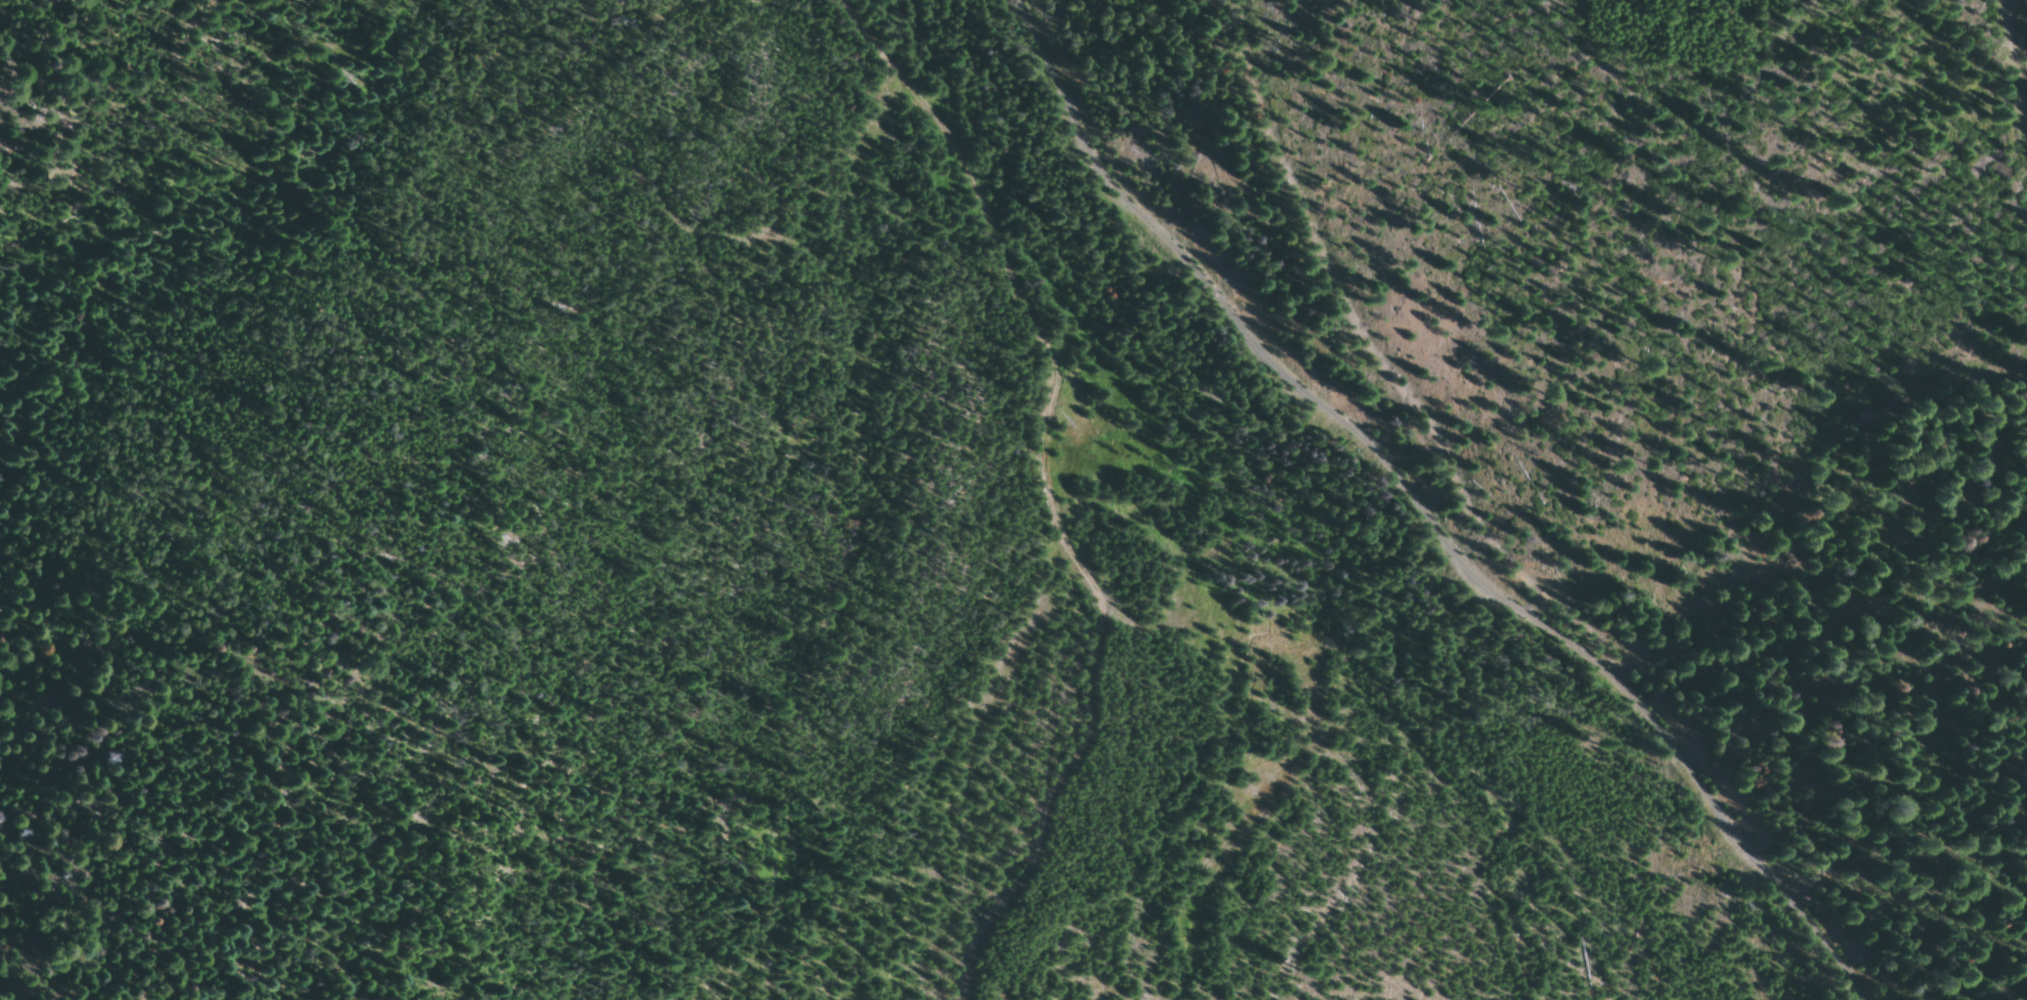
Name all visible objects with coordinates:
road: (2006, 184)

